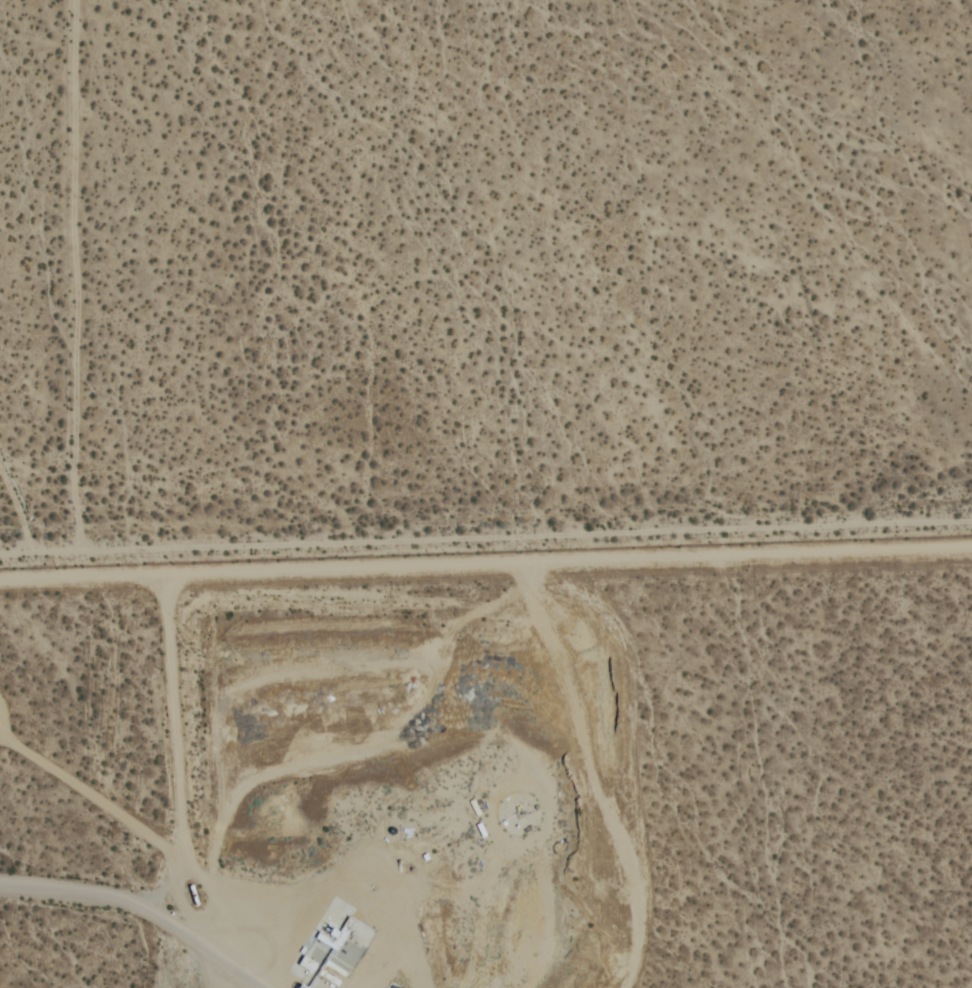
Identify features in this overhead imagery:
road: (80, 275)
road: (485, 537)
airport: (492, 771)
road: (137, 908)

